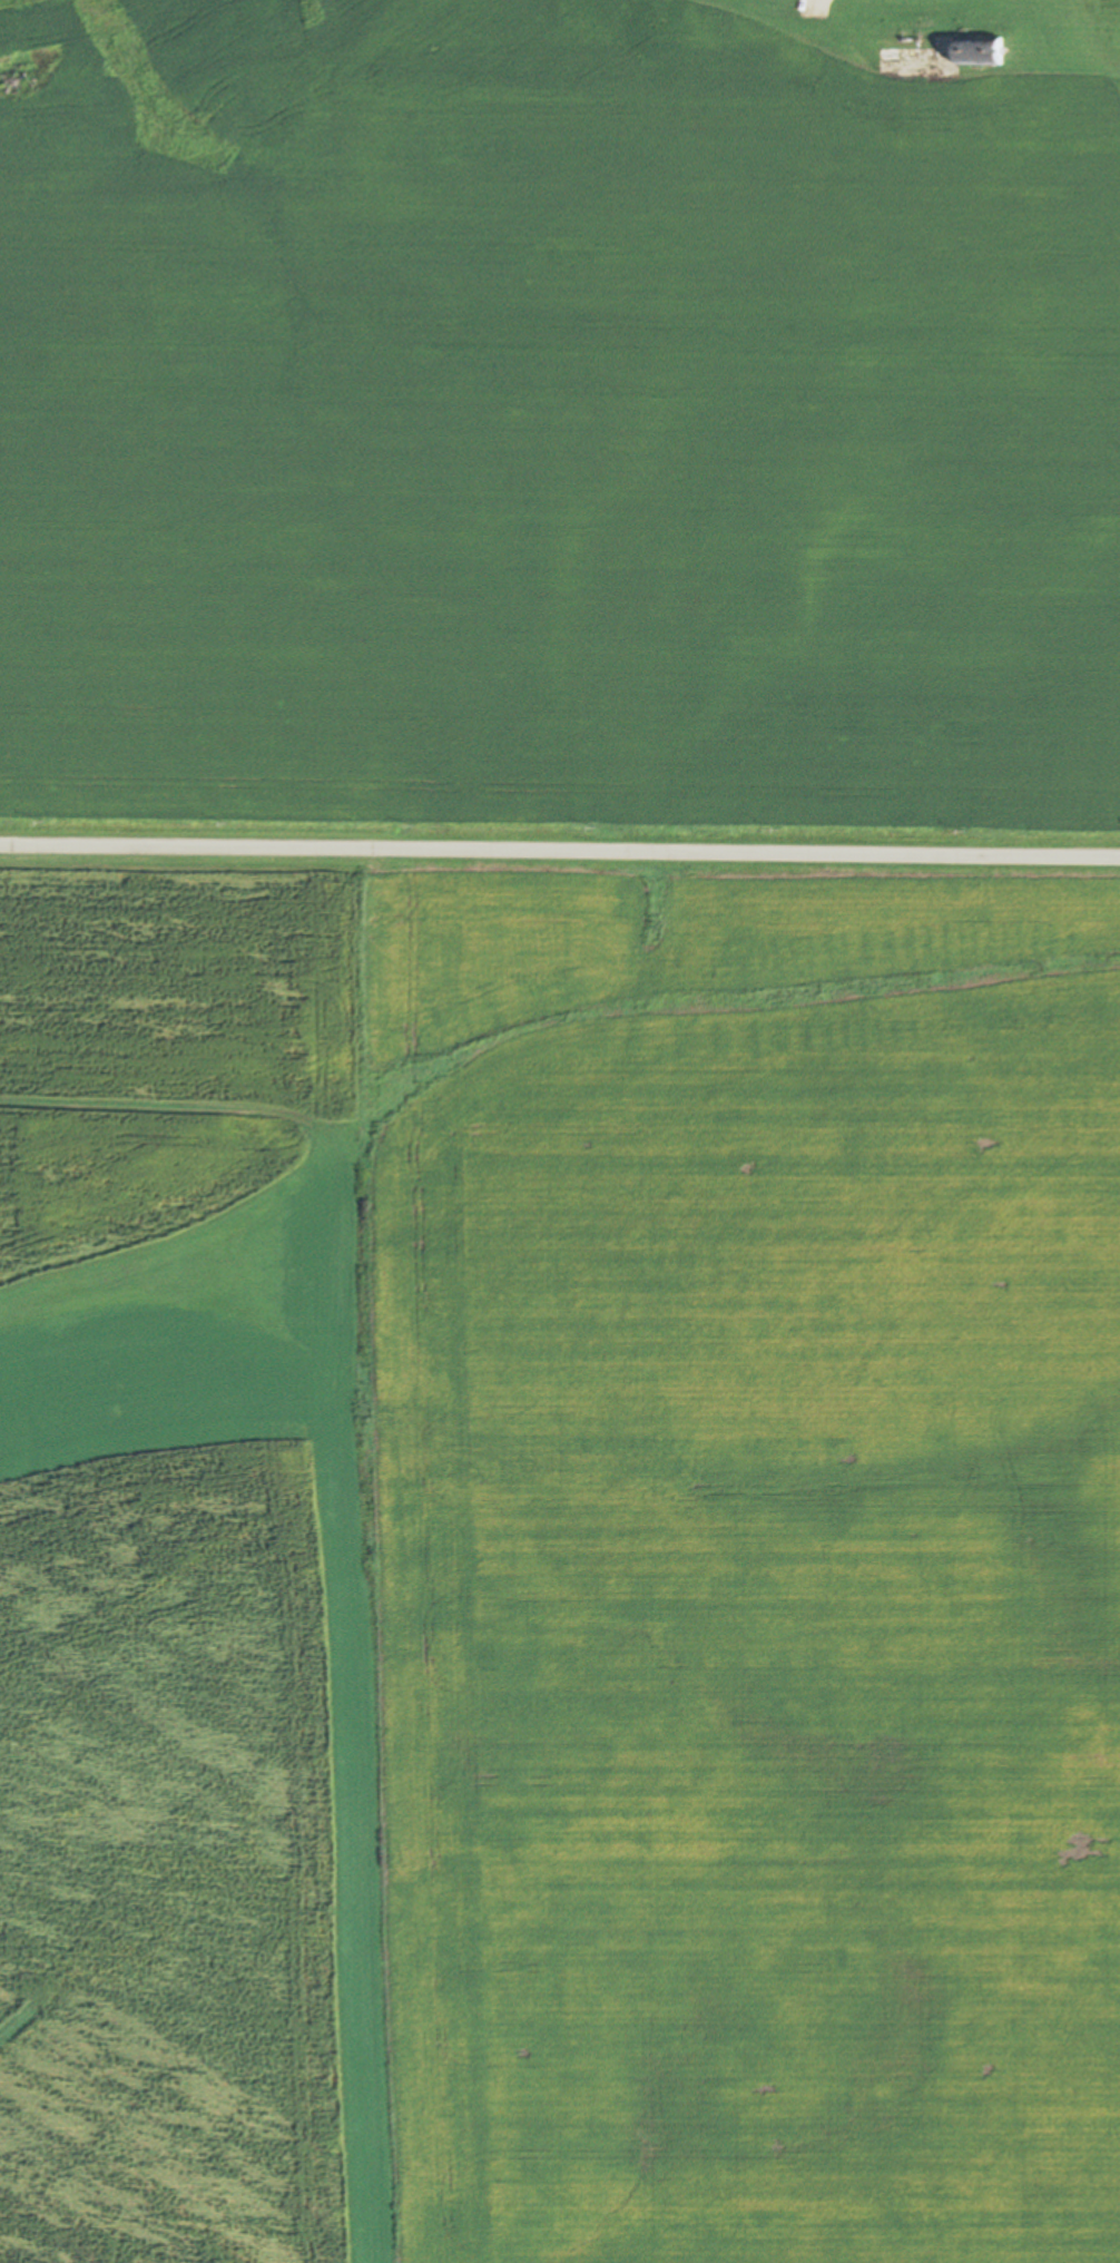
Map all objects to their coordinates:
building: (906, 43)
building: (976, 51)
road: (560, 849)

